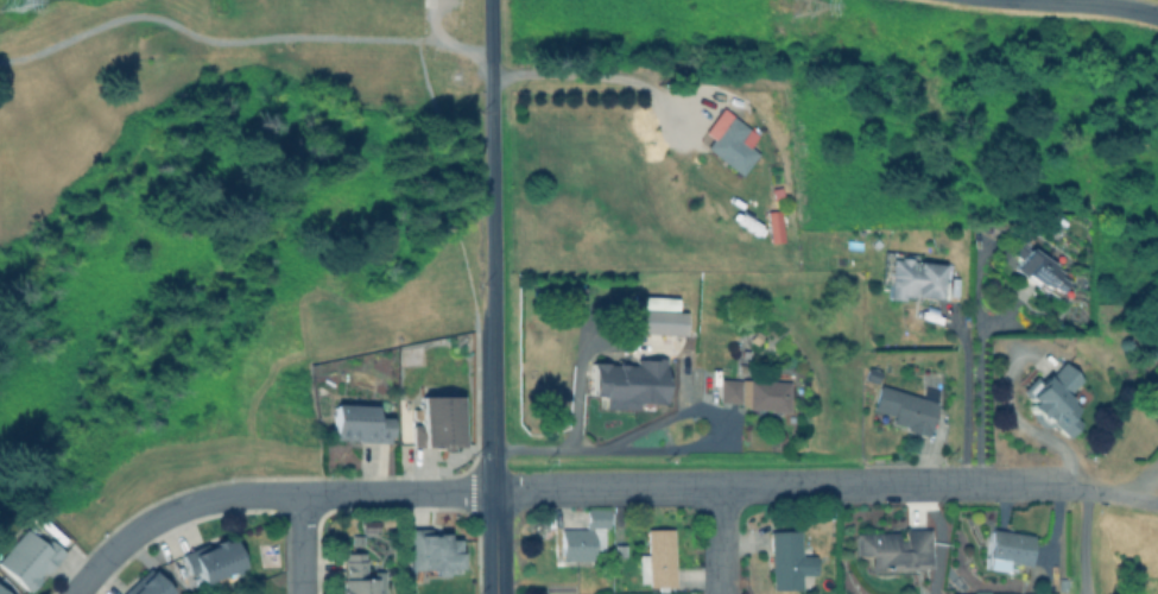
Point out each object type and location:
road: (1091, 5)
power tower: (776, 7)
road: (242, 27)
road: (491, 32)
road: (444, 43)
road: (594, 72)
building: (728, 139)
road: (492, 200)
road: (454, 207)
building: (773, 223)
park: (220, 244)
building: (1040, 270)
building: (910, 273)
building: (659, 320)
building: (754, 336)
building: (684, 367)
building: (869, 373)
building: (625, 381)
building: (751, 391)
road: (979, 391)
road: (966, 393)
building: (1051, 397)
building: (905, 406)
building: (1152, 409)
building: (434, 421)
building: (356, 422)
road: (577, 448)
road: (531, 449)
road: (494, 463)
road: (827, 486)
road: (267, 493)
building: (367, 524)
building: (582, 536)
building: (355, 538)
road: (720, 541)
road: (1083, 542)
road: (302, 543)
building: (1005, 548)
building: (616, 549)
building: (428, 550)
building: (892, 550)
building: (26, 555)
building: (208, 558)
building: (656, 558)
building: (786, 558)
building: (355, 575)
building: (145, 584)
building: (0, 593)

